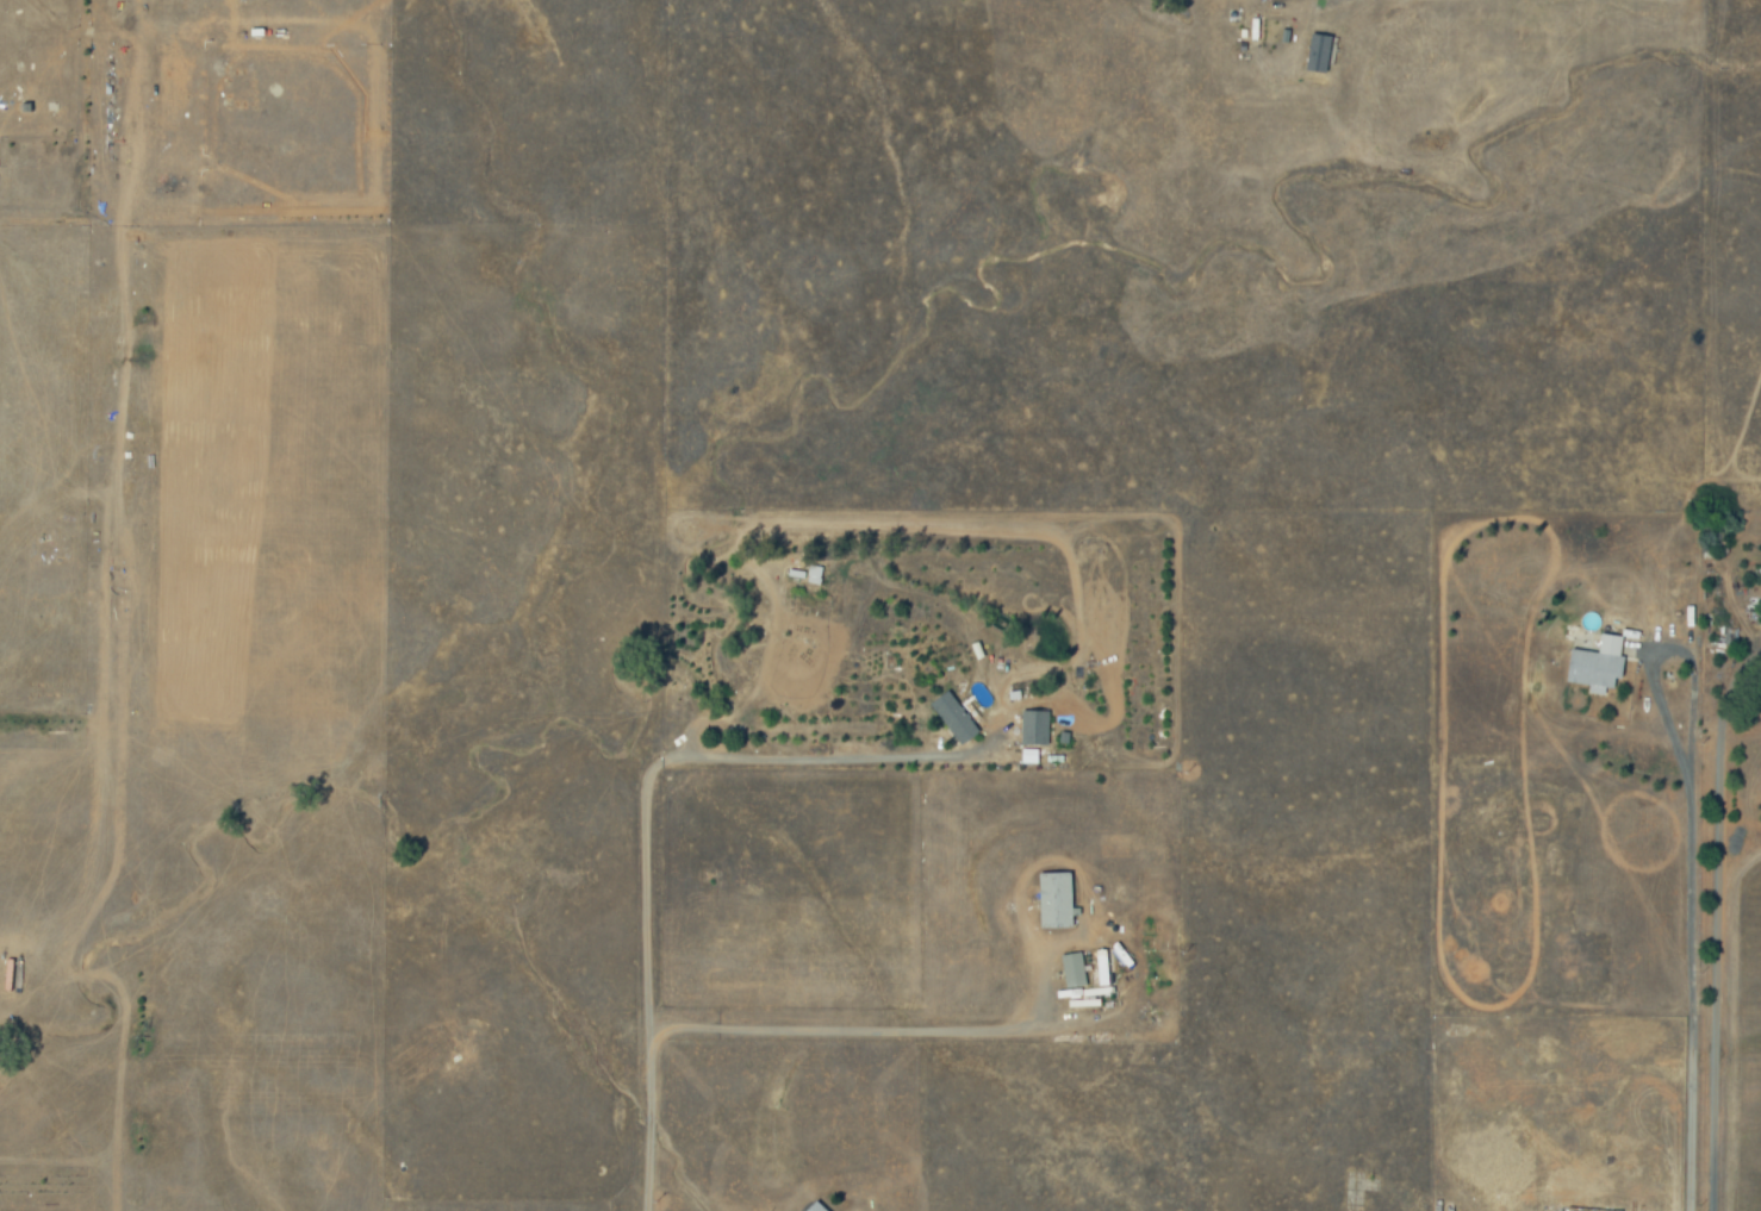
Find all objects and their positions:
building: (1321, 52)
road: (1667, 647)
building: (1600, 666)
building: (956, 718)
building: (1037, 728)
road: (645, 824)
building: (1058, 900)
road: (1716, 919)
building: (1075, 970)
building: (1104, 975)
road: (1688, 995)
road: (867, 1030)
building: (819, 1206)

